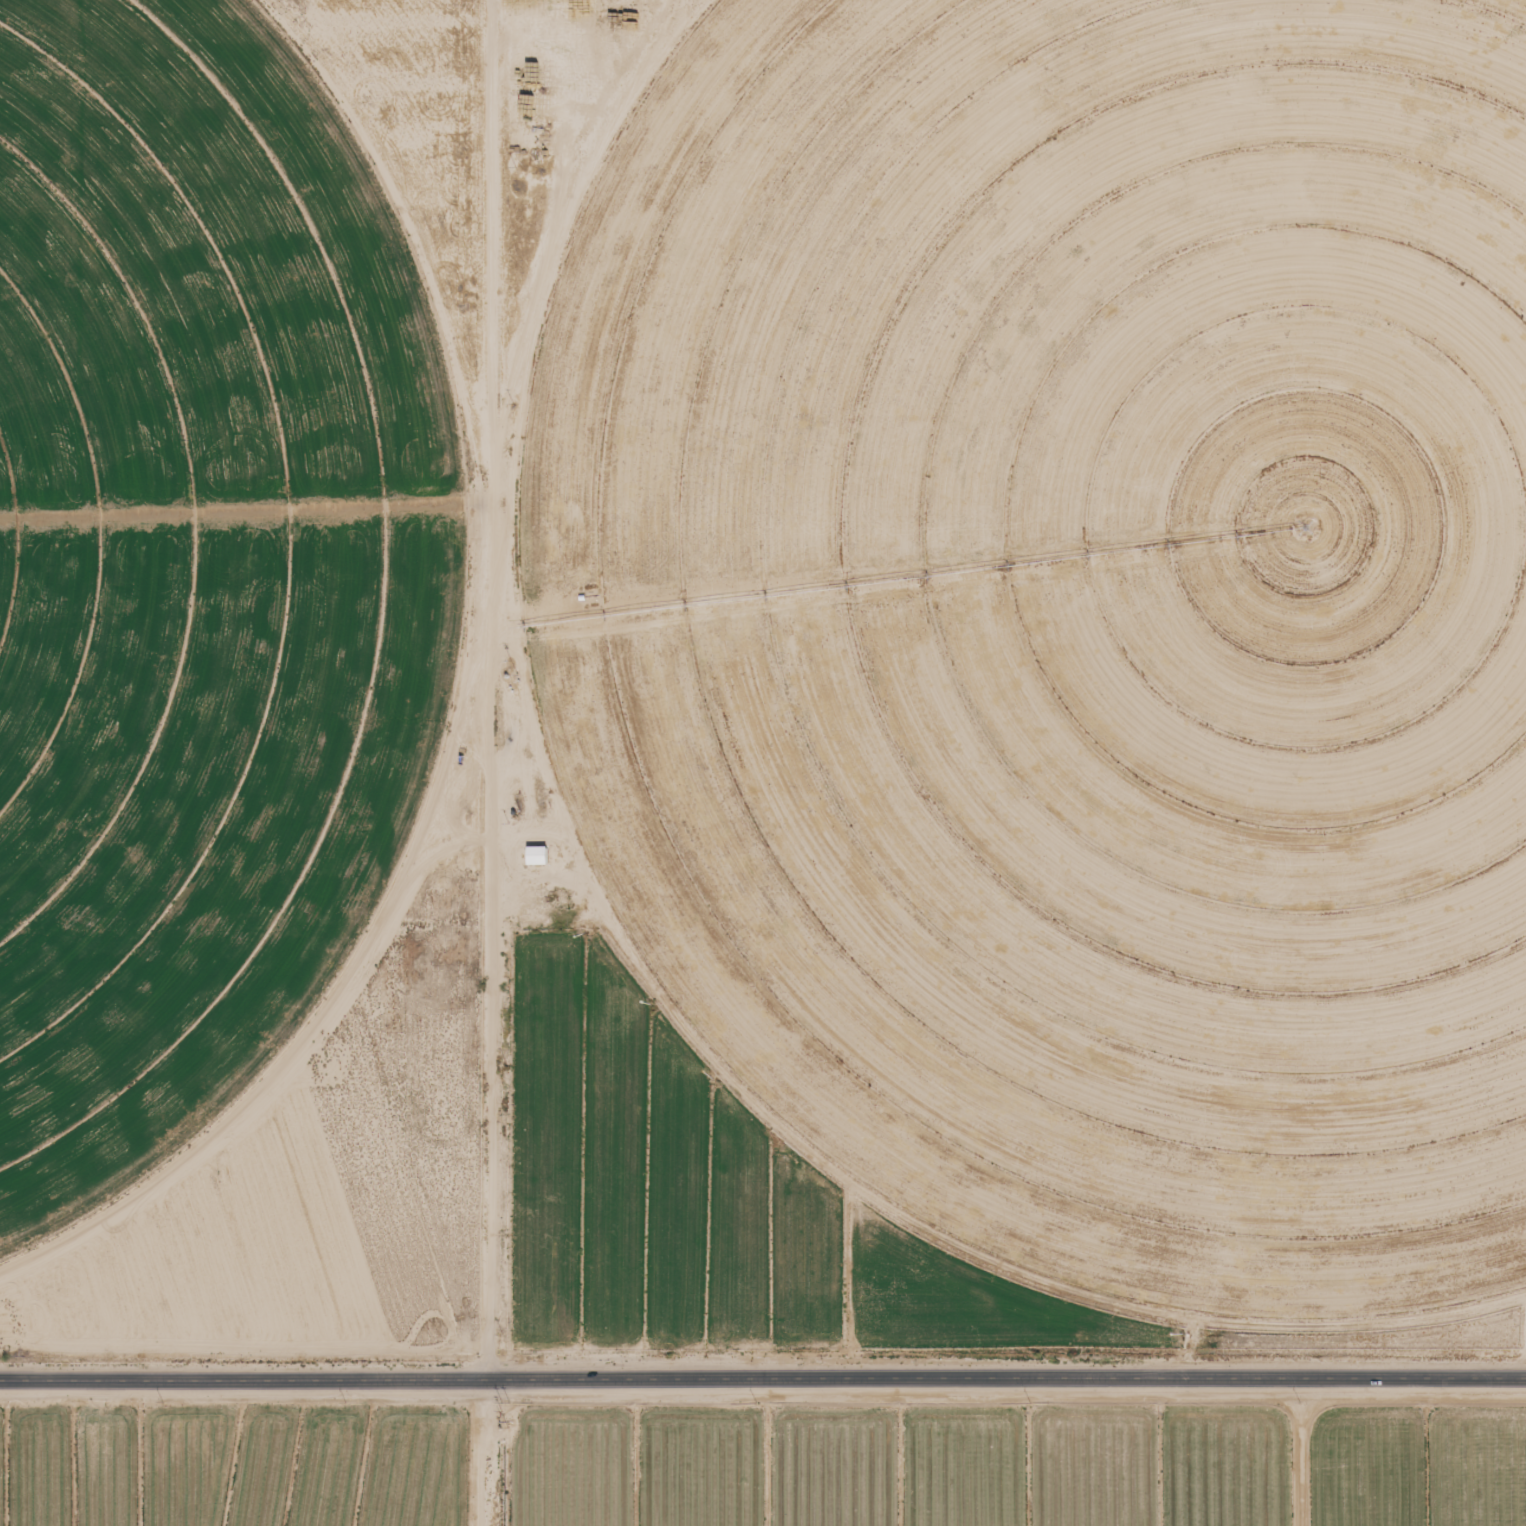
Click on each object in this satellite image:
road: (1274, 22)
crop: (201, 578)
crop: (1070, 617)
road: (506, 763)
building: (523, 800)
road: (762, 1383)

